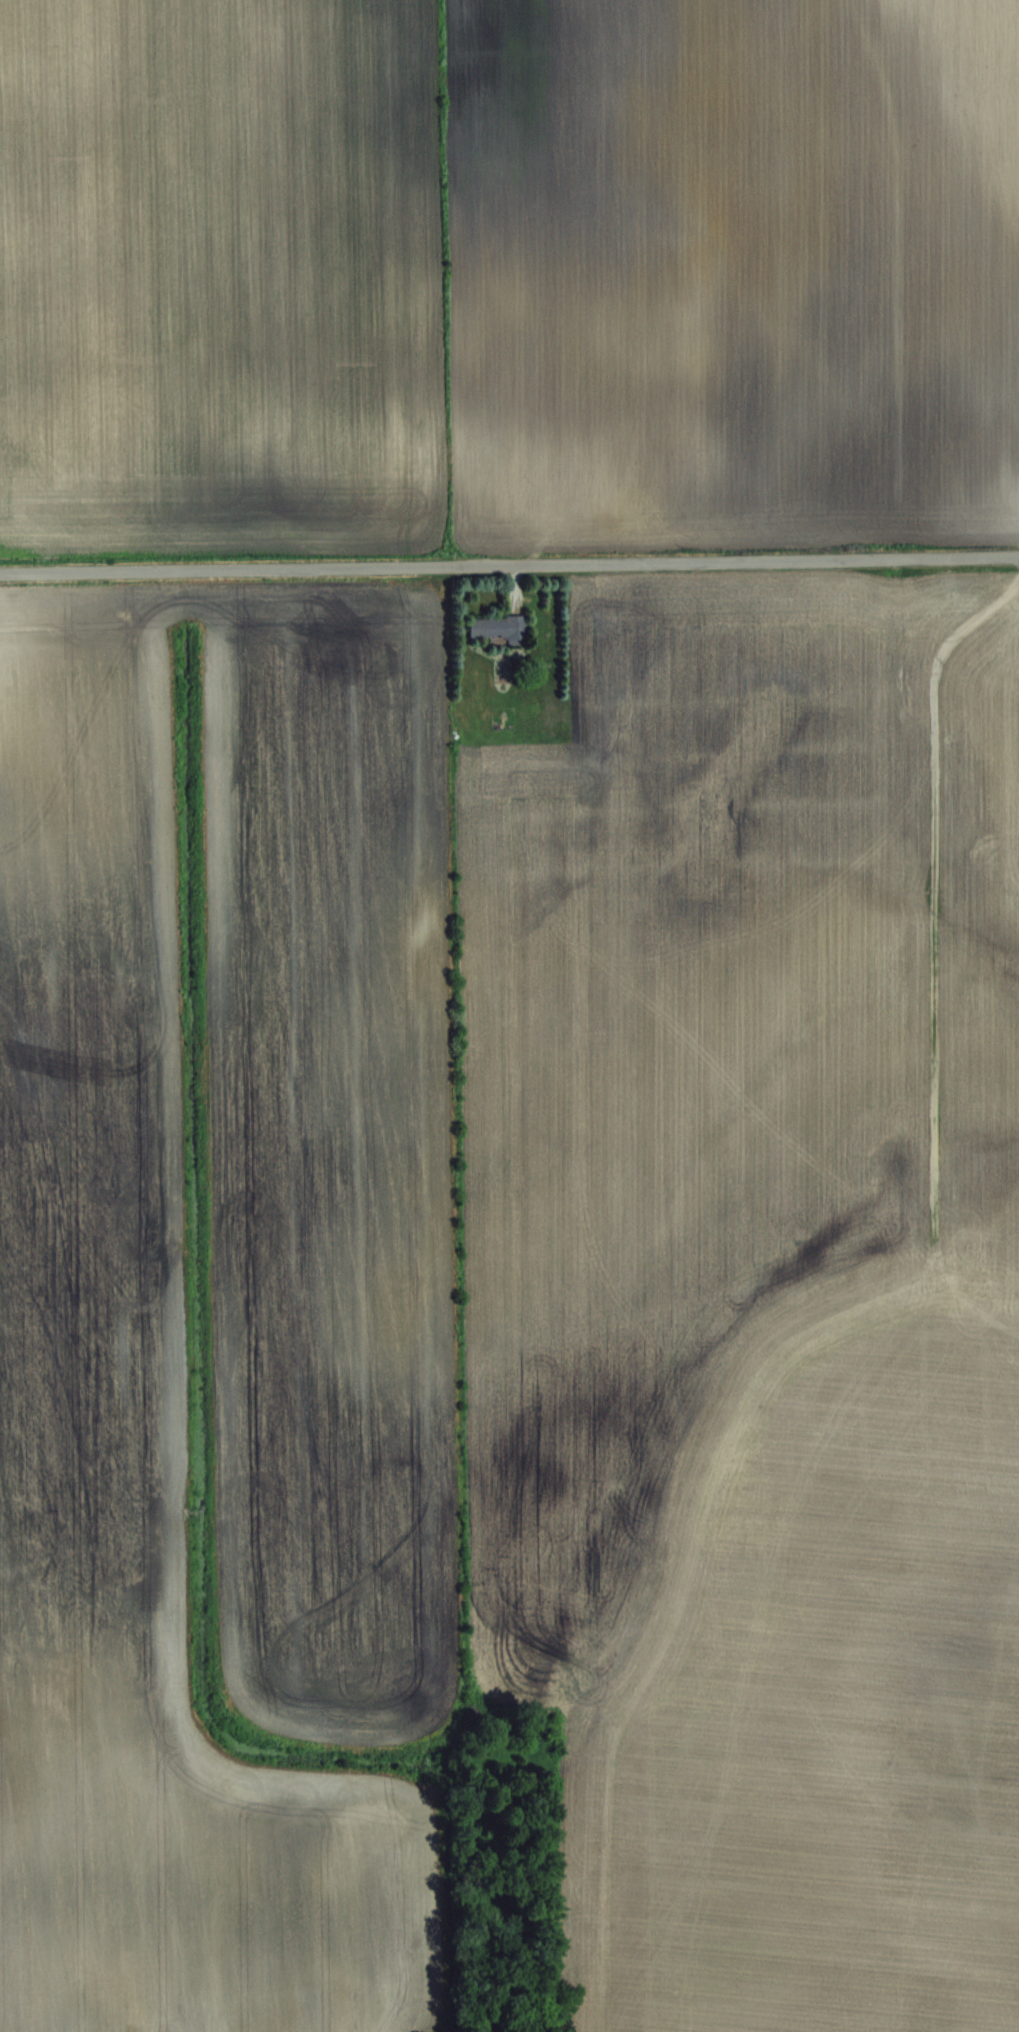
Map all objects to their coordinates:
road: (509, 564)
building: (494, 624)

